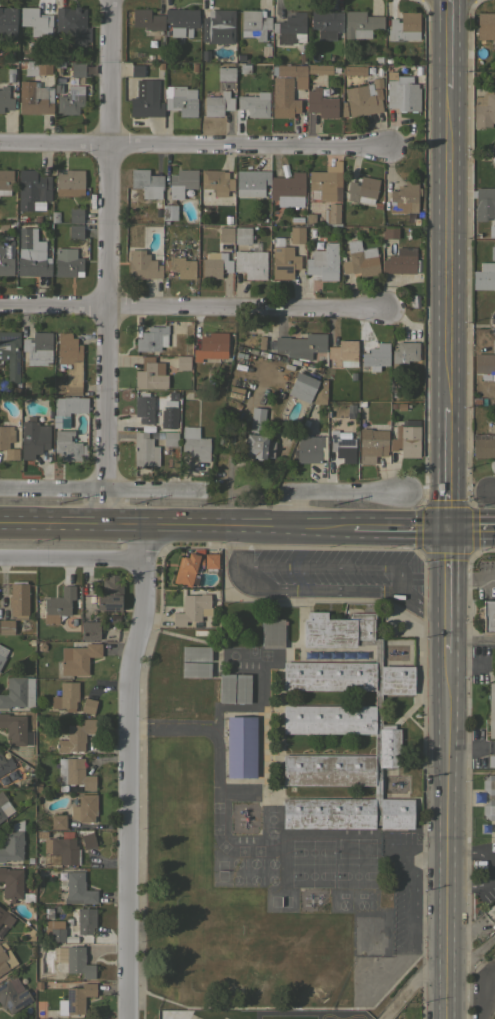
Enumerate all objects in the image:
building: (147, 20)
building: (36, 21)
building: (181, 21)
building: (7, 23)
building: (254, 23)
building: (326, 23)
building: (71, 24)
building: (360, 24)
building: (485, 25)
building: (217, 26)
building: (404, 27)
building: (290, 28)
road: (450, 44)
building: (265, 50)
building: (205, 55)
building: (240, 56)
building: (150, 57)
building: (158, 57)
building: (302, 57)
building: (313, 57)
building: (379, 58)
building: (388, 58)
building: (36, 66)
building: (194, 67)
building: (244, 68)
building: (77, 69)
building: (317, 69)
building: (136, 70)
building: (354, 70)
building: (418, 70)
building: (379, 71)
building: (225, 73)
building: (10, 75)
building: (377, 83)
building: (58, 89)
building: (286, 89)
building: (401, 92)
building: (5, 98)
building: (34, 98)
building: (146, 99)
building: (70, 100)
building: (180, 100)
building: (362, 100)
building: (321, 103)
building: (217, 104)
building: (254, 104)
building: (484, 109)
road: (193, 144)
road: (474, 158)
building: (5, 181)
building: (69, 182)
building: (181, 182)
building: (251, 182)
building: (147, 183)
building: (215, 183)
building: (324, 186)
building: (32, 189)
building: (289, 189)
building: (362, 190)
building: (405, 197)
building: (222, 200)
building: (484, 203)
building: (377, 204)
building: (169, 212)
building: (332, 213)
building: (419, 213)
building: (75, 214)
building: (54, 215)
building: (275, 215)
building: (309, 216)
building: (37, 217)
building: (217, 218)
building: (228, 218)
building: (415, 221)
building: (362, 228)
building: (311, 230)
building: (75, 231)
building: (226, 232)
building: (390, 232)
building: (297, 234)
building: (242, 235)
building: (405, 239)
building: (277, 240)
building: (316, 243)
building: (255, 245)
road: (452, 246)
building: (492, 252)
building: (32, 254)
building: (6, 257)
building: (360, 259)
building: (400, 261)
building: (67, 262)
building: (284, 262)
building: (323, 262)
road: (108, 263)
building: (215, 264)
building: (251, 264)
building: (145, 265)
building: (180, 266)
building: (484, 276)
road: (185, 303)
road: (473, 329)
building: (152, 338)
building: (260, 341)
building: (269, 344)
building: (301, 345)
building: (211, 346)
building: (38, 348)
building: (405, 352)
building: (10, 353)
building: (343, 353)
building: (376, 356)
building: (70, 361)
building: (182, 362)
building: (484, 368)
building: (150, 374)
building: (302, 387)
building: (174, 393)
building: (321, 393)
building: (207, 400)
building: (70, 405)
building: (400, 405)
building: (148, 410)
building: (56, 422)
building: (257, 436)
building: (33, 438)
building: (170, 438)
building: (406, 439)
building: (7, 442)
building: (195, 443)
building: (372, 444)
building: (483, 445)
building: (68, 446)
building: (343, 447)
building: (309, 448)
building: (144, 450)
road: (450, 466)
road: (98, 488)
road: (326, 489)
road: (491, 492)
road: (175, 527)
road: (401, 527)
road: (472, 527)
road: (71, 559)
building: (210, 560)
road: (328, 566)
building: (187, 568)
road: (472, 576)
road: (449, 589)
road: (317, 590)
building: (109, 593)
building: (18, 599)
building: (58, 604)
building: (192, 608)
building: (488, 615)
building: (6, 626)
building: (90, 630)
building: (272, 632)
road: (472, 636)
building: (30, 642)
building: (41, 646)
building: (195, 652)
building: (2, 653)
building: (78, 658)
road: (470, 661)
building: (195, 669)
building: (155, 678)
building: (226, 687)
building: (242, 687)
building: (18, 692)
building: (66, 696)
building: (88, 705)
building: (170, 709)
building: (491, 710)
building: (202, 715)
building: (16, 729)
building: (343, 730)
building: (76, 736)
building: (240, 746)
road: (467, 747)
road: (491, 748)
building: (491, 760)
building: (5, 764)
road: (127, 772)
building: (74, 773)
building: (489, 796)
building: (2, 797)
building: (84, 808)
building: (2, 815)
building: (57, 821)
road: (446, 835)
building: (88, 840)
building: (12, 842)
building: (63, 847)
building: (29, 860)
building: (11, 883)
building: (77, 889)
building: (27, 897)
building: (5, 916)
building: (48, 919)
building: (82, 920)
building: (57, 934)
building: (367, 934)
building: (5, 959)
building: (78, 962)
road: (412, 982)
building: (13, 994)
road: (483, 997)
building: (75, 1000)

